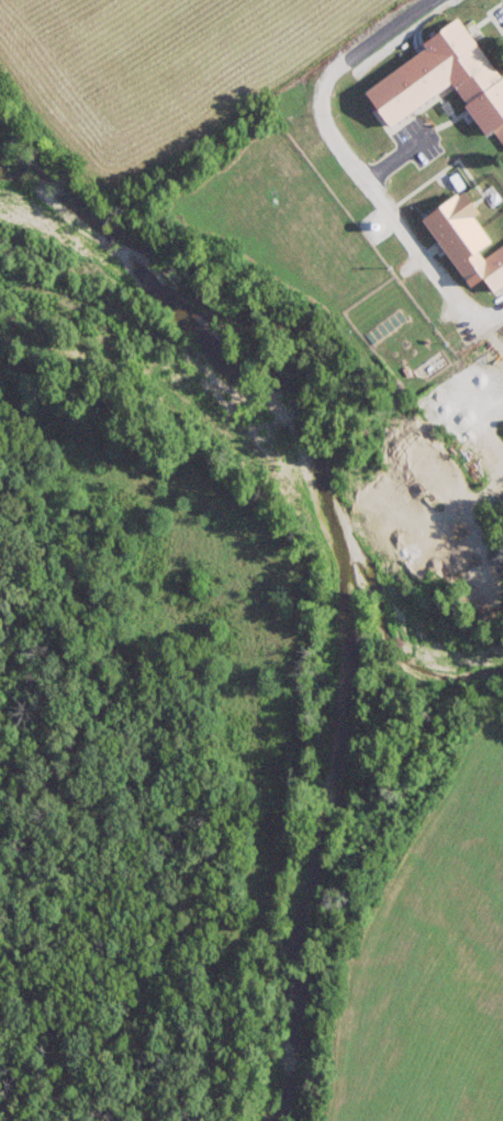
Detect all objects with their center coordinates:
building: (445, 80)
road: (393, 156)
road: (349, 162)
building: (493, 269)

